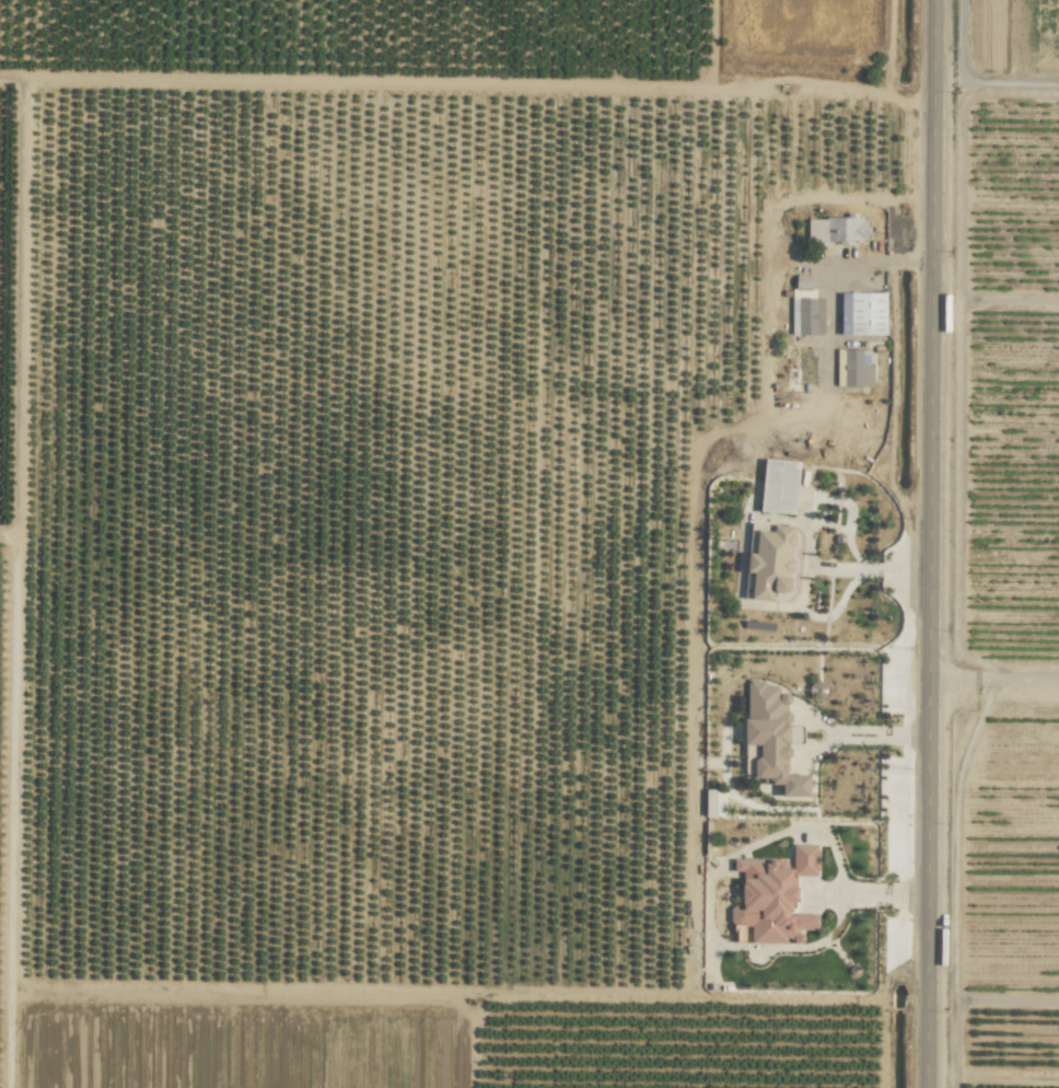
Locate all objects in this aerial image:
road: (466, 79)
road: (947, 100)
building: (835, 231)
road: (830, 276)
road: (994, 299)
building: (805, 308)
building: (862, 313)
road: (975, 338)
building: (853, 368)
building: (779, 486)
road: (928, 543)
building: (770, 562)
road: (868, 568)
crop: (1013, 627)
road: (992, 676)
building: (772, 736)
road: (871, 737)
building: (714, 802)
road: (964, 881)
road: (874, 895)
building: (775, 896)
road: (1012, 1000)

